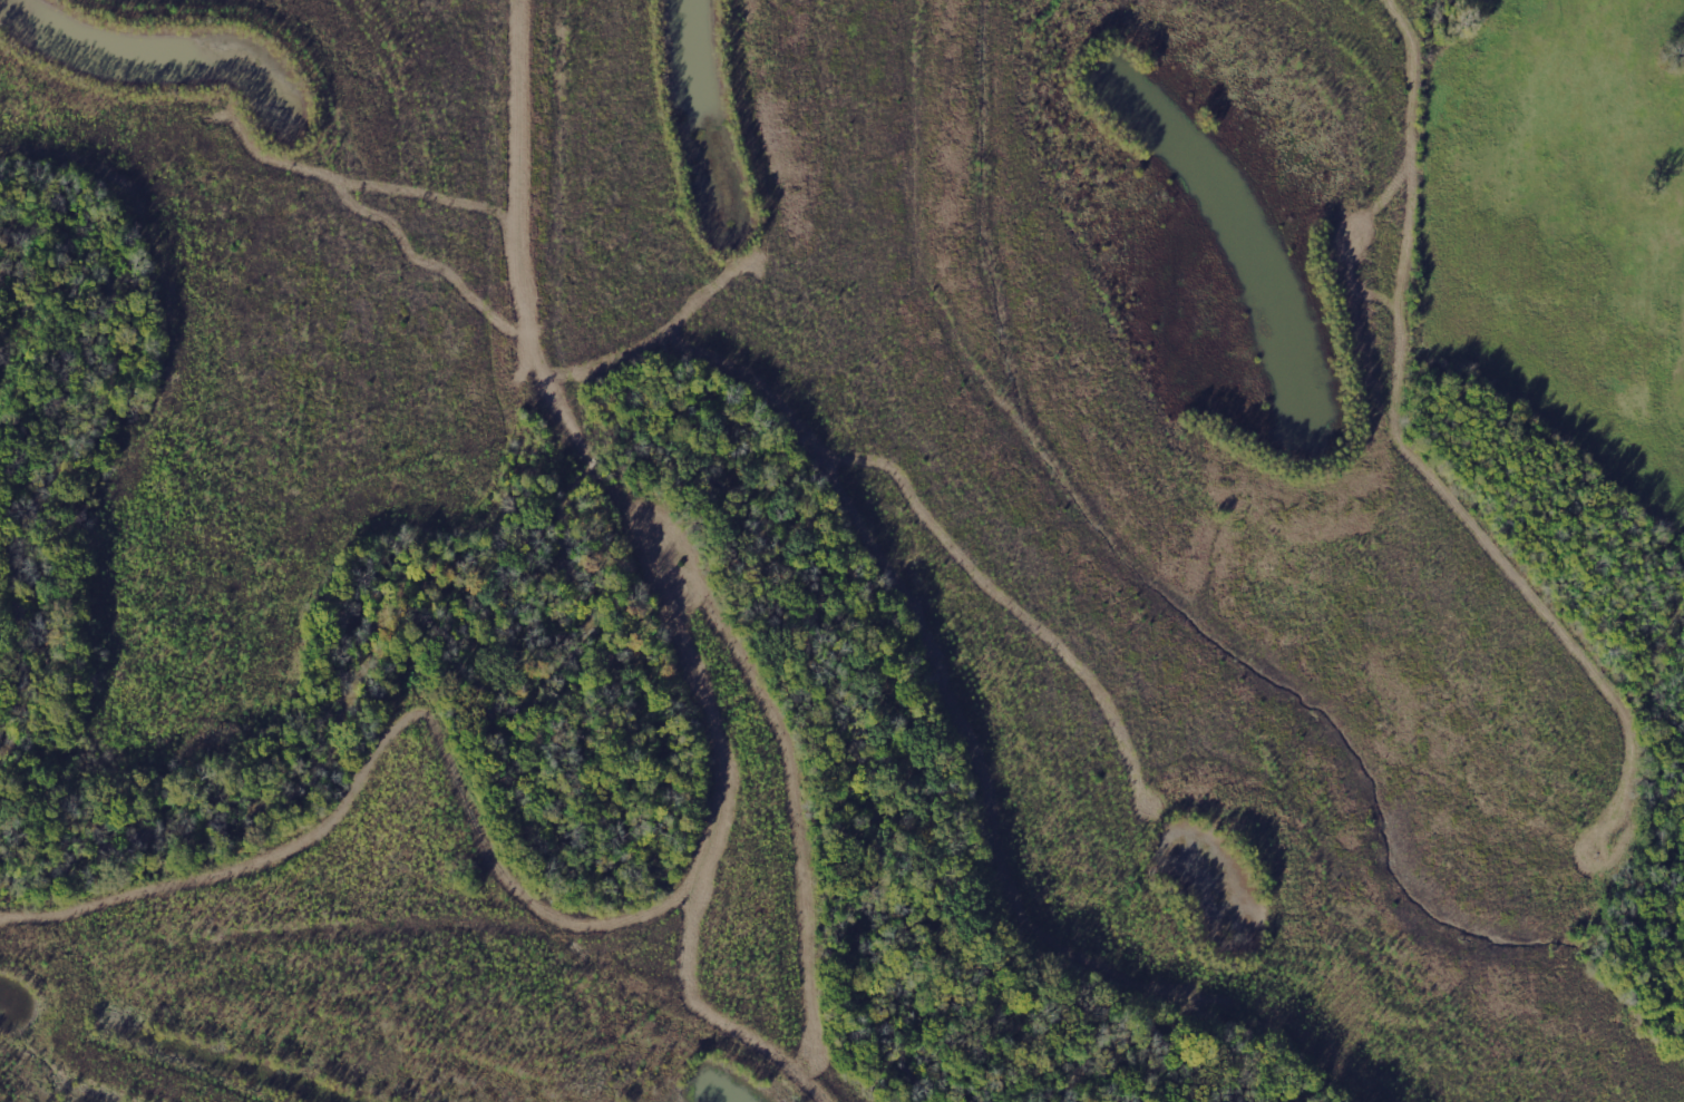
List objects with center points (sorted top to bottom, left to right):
road: (536, 236)
road: (718, 692)

